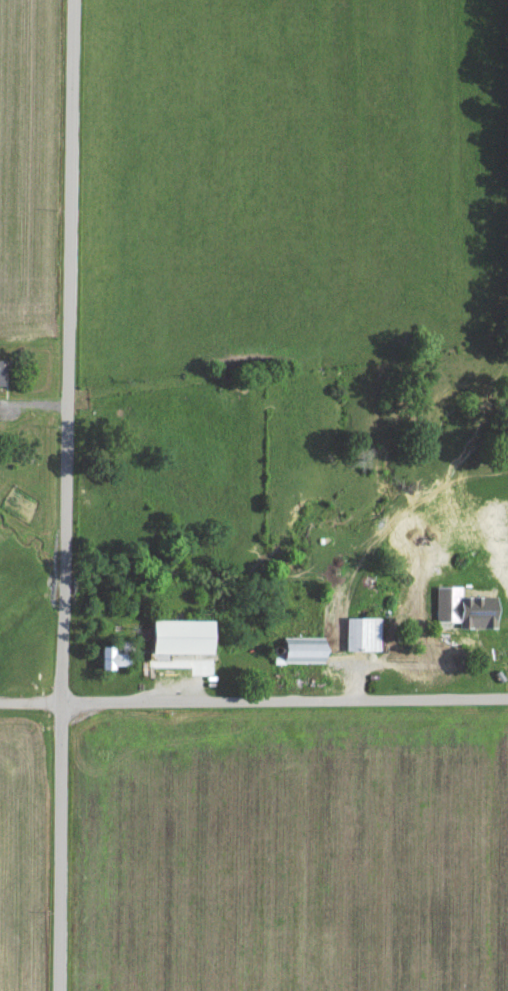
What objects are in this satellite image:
road: (65, 495)
building: (357, 638)
building: (174, 641)
building: (296, 654)
building: (103, 662)
road: (283, 699)
road: (29, 701)

